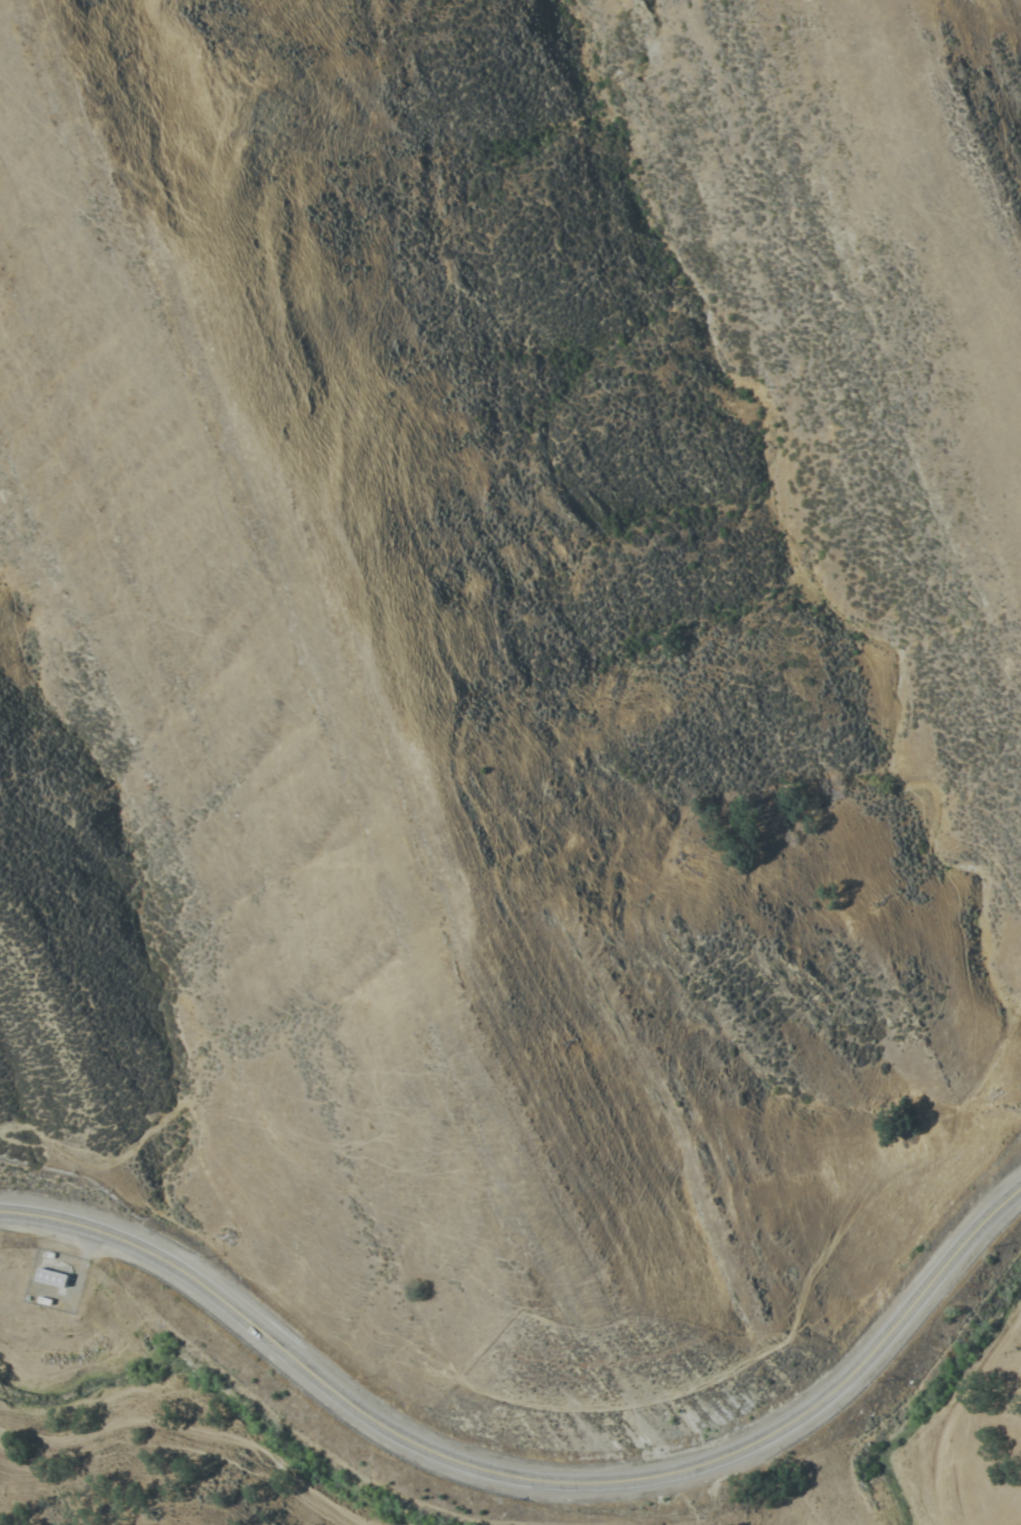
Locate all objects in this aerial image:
building: (46, 1276)
building: (40, 1299)
road: (528, 1457)

